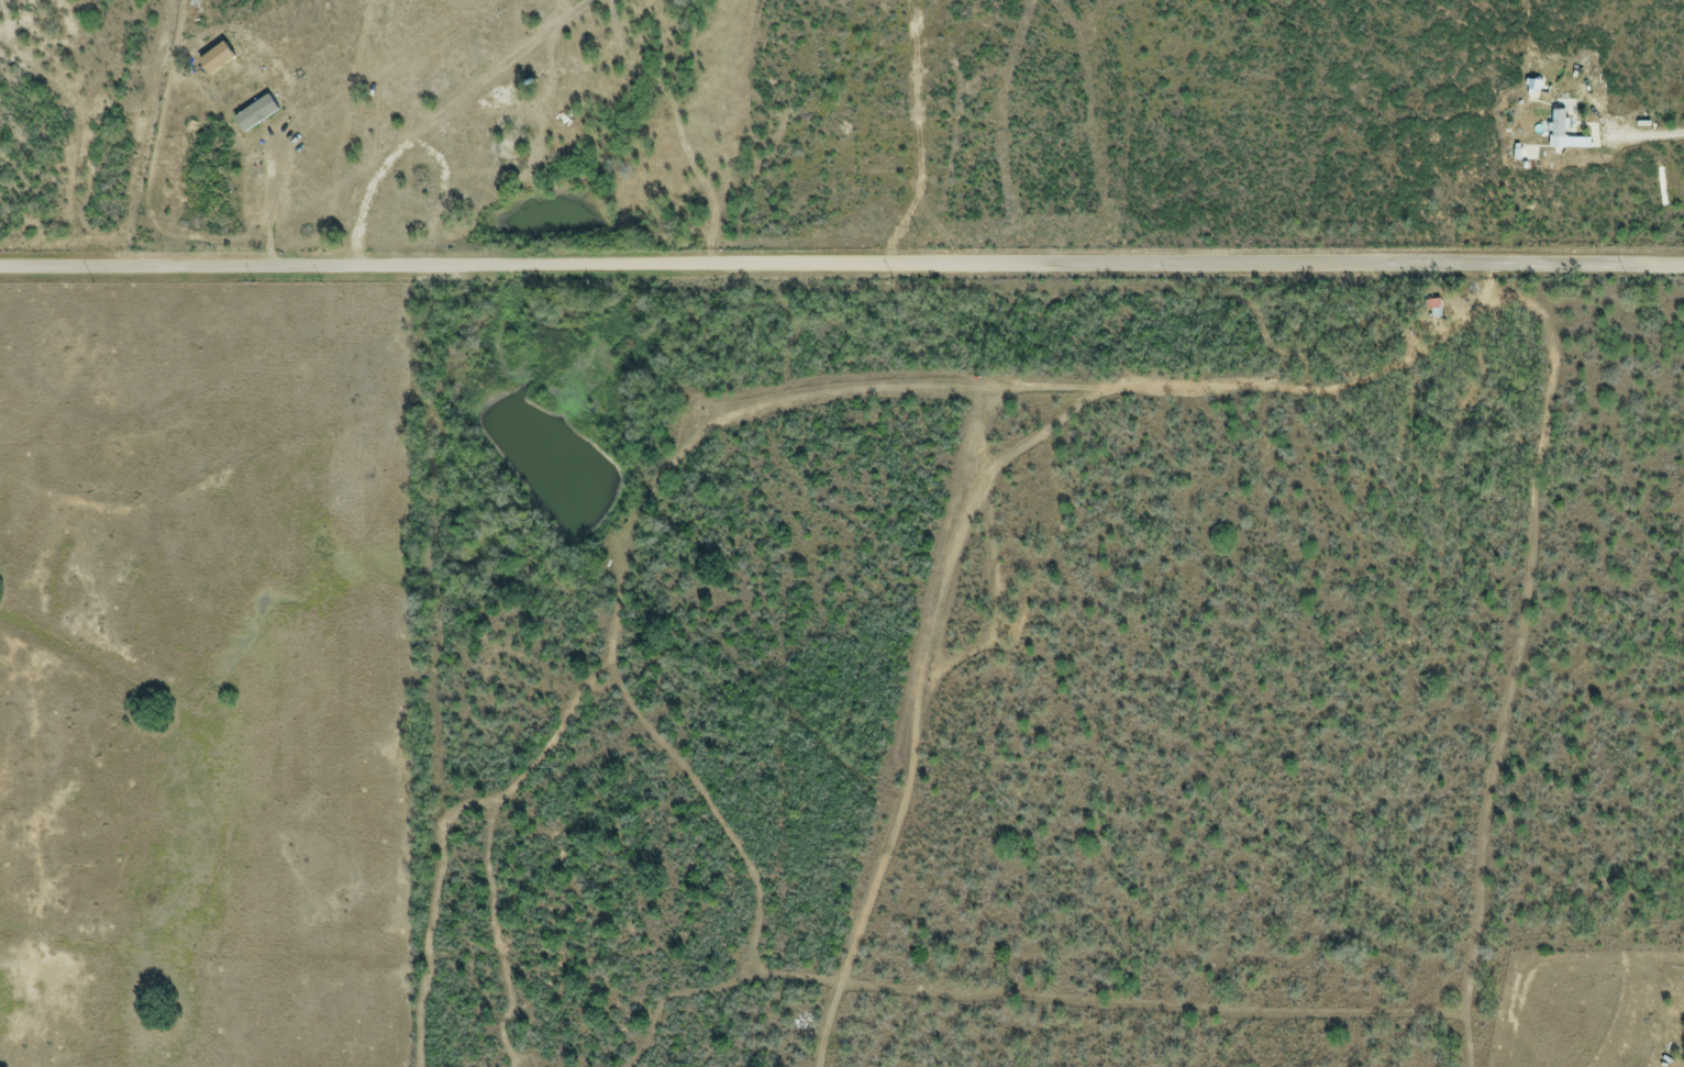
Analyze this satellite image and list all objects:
building: (253, 115)
road: (1659, 137)
road: (266, 201)
road: (842, 263)
road: (1480, 304)

